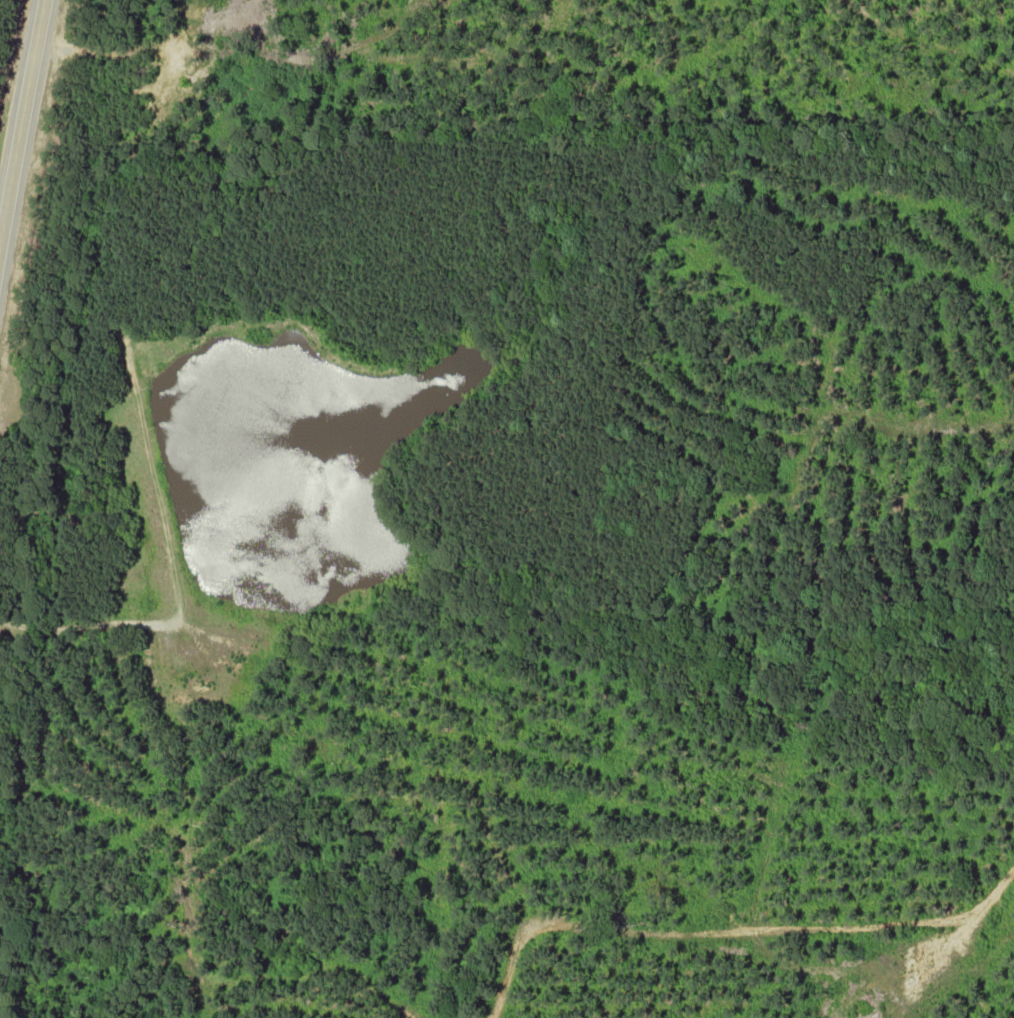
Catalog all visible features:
road: (18, 114)
road: (159, 709)

